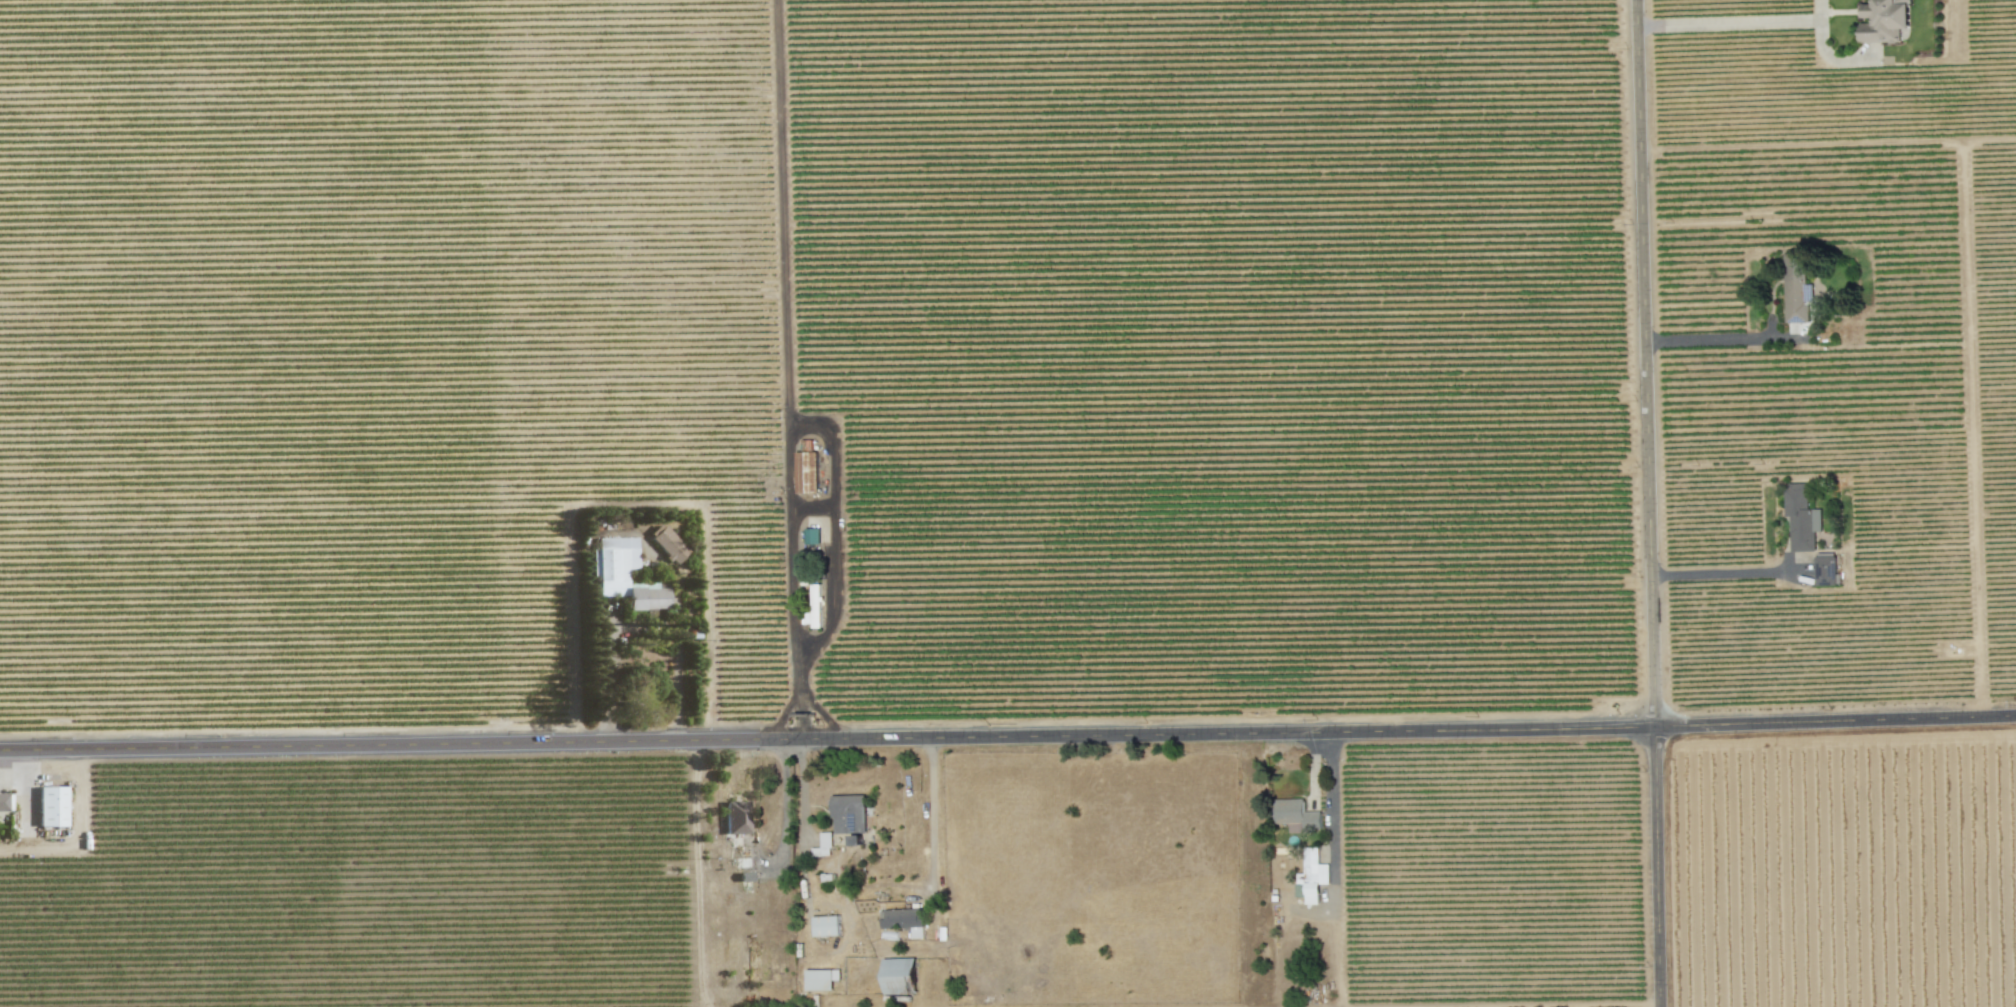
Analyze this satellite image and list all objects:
building: (1884, 20)
road: (1731, 22)
building: (1795, 289)
road: (1711, 339)
building: (806, 471)
road: (1652, 503)
building: (1800, 516)
road: (618, 533)
building: (811, 535)
building: (667, 543)
road: (1724, 571)
building: (623, 574)
building: (814, 607)
road: (794, 638)
road: (1008, 736)
building: (5, 800)
road: (1329, 804)
building: (51, 806)
building: (848, 813)
building: (1297, 815)
building: (735, 817)
road: (783, 819)
road: (931, 820)
road: (81, 835)
building: (822, 845)
building: (1311, 876)
building: (825, 925)
building: (897, 975)
building: (820, 978)
road: (1567, 1006)

